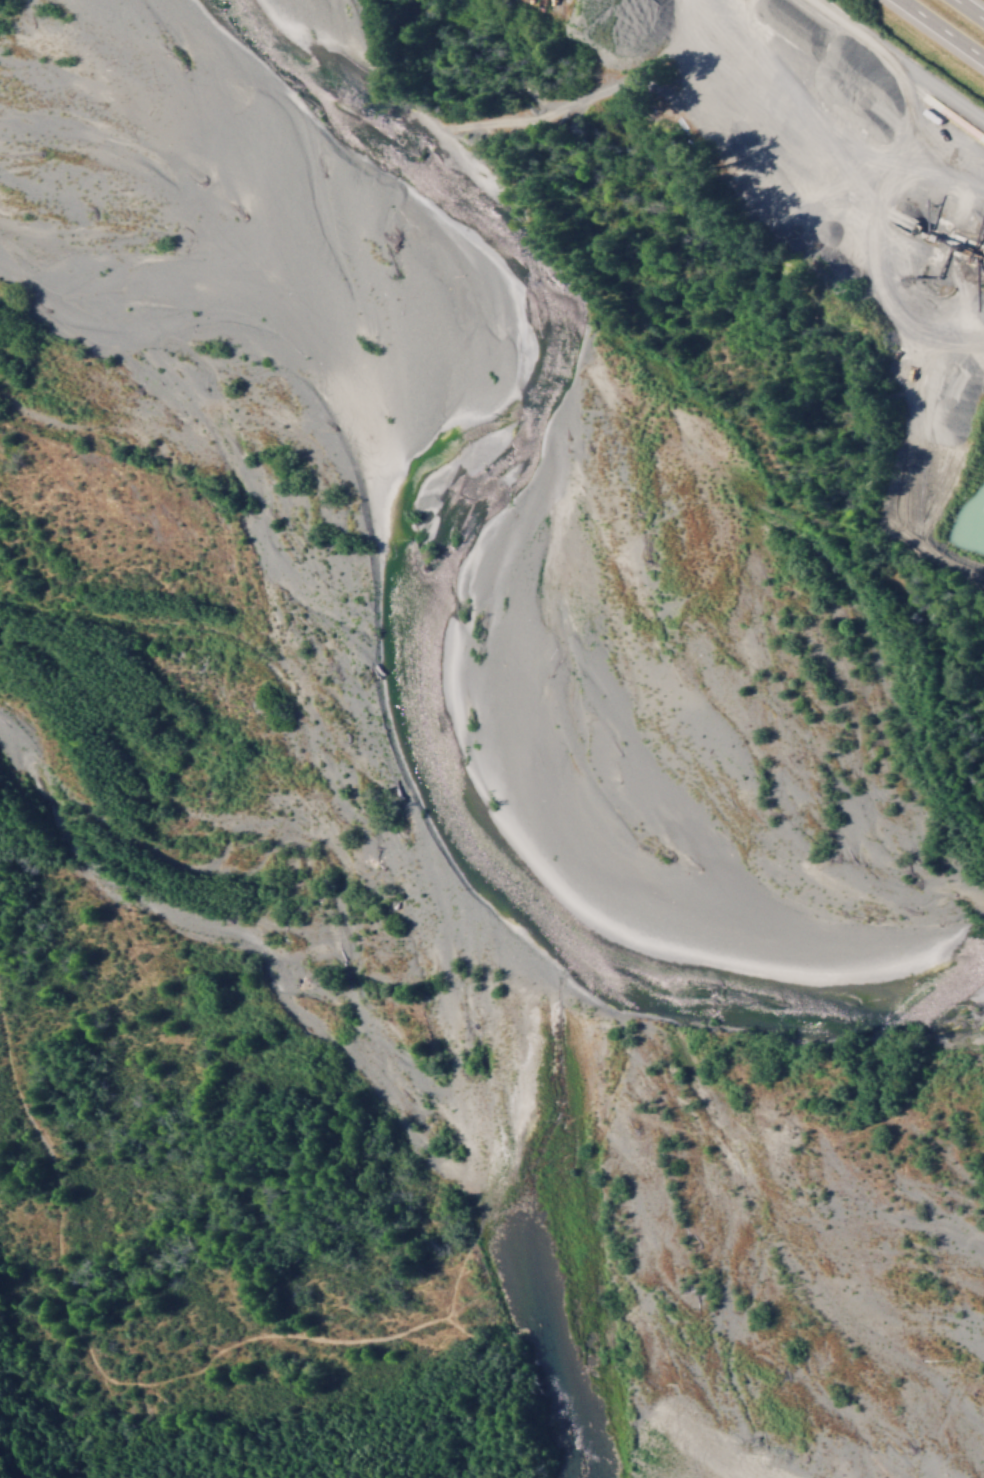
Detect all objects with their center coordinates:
road: (969, 9)
road: (816, 10)
road: (944, 28)
river: (657, 727)

